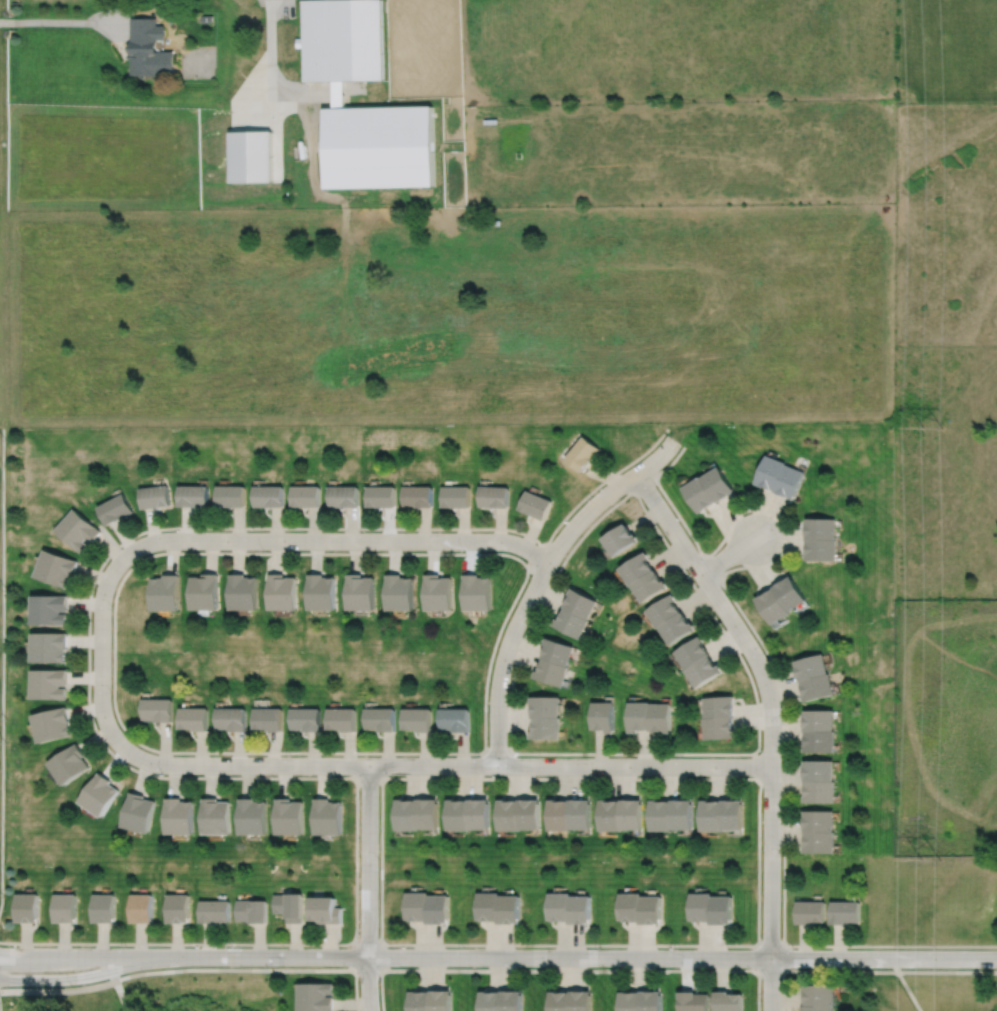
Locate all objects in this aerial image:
building: (206, 18)
road: (63, 21)
building: (342, 39)
building: (149, 49)
road: (270, 60)
road: (338, 90)
road: (253, 91)
building: (490, 120)
building: (379, 145)
crop: (681, 152)
building: (251, 155)
road: (312, 159)
power tower: (932, 428)
street lamp: (678, 448)
building: (583, 453)
road: (656, 459)
building: (770, 471)
building: (789, 481)
road: (643, 483)
building: (717, 483)
street lamp: (655, 485)
building: (699, 494)
building: (156, 496)
building: (195, 496)
building: (231, 496)
building: (268, 496)
building: (305, 496)
building: (344, 496)
building: (380, 496)
building: (417, 496)
building: (456, 496)
building: (494, 496)
street lamp: (590, 496)
building: (536, 505)
building: (117, 509)
street lamp: (778, 522)
building: (820, 528)
building: (78, 530)
street lamp: (174, 530)
street lamp: (365, 531)
building: (622, 539)
road: (338, 540)
street lamp: (263, 550)
street lamp: (463, 550)
building: (821, 550)
road: (163, 552)
road: (728, 555)
road: (535, 558)
road: (711, 567)
building: (56, 568)
building: (640, 568)
street lamp: (691, 577)
building: (653, 586)
building: (206, 592)
building: (243, 592)
building: (281, 592)
building: (321, 592)
building: (360, 592)
building: (167, 593)
building: (399, 593)
building: (438, 593)
building: (478, 593)
building: (789, 593)
road: (701, 598)
road: (527, 601)
building: (582, 604)
building: (772, 606)
street lamp: (111, 607)
building: (50, 610)
building: (667, 611)
street lamp: (530, 617)
building: (573, 623)
building: (681, 628)
road: (100, 645)
building: (49, 647)
building: (558, 652)
building: (694, 653)
street lamp: (763, 653)
road: (2, 667)
building: (810, 668)
building: (705, 672)
building: (552, 673)
building: (49, 684)
road: (778, 687)
building: (816, 688)
street lamp: (111, 693)
road: (768, 697)
street lamp: (487, 707)
building: (546, 707)
building: (720, 707)
building: (159, 710)
building: (604, 717)
building: (640, 717)
building: (662, 718)
building: (194, 719)
building: (233, 719)
building: (268, 720)
building: (305, 720)
building: (341, 720)
building: (380, 720)
building: (418, 720)
building: (456, 720)
building: (819, 721)
building: (53, 725)
building: (547, 729)
building: (720, 729)
road: (96, 732)
street lamp: (756, 740)
building: (820, 742)
street lamp: (760, 750)
road: (497, 753)
street lamp: (290, 755)
street lamp: (479, 755)
street lamp: (681, 756)
road: (758, 764)
building: (70, 765)
road: (441, 765)
building: (819, 768)
street lamp: (163, 774)
street lamp: (388, 776)
street lamp: (596, 776)
road: (368, 777)
building: (820, 790)
building: (101, 795)
building: (661, 812)
building: (682, 812)
building: (733, 812)
building: (712, 813)
building: (140, 814)
building: (631, 814)
building: (611, 815)
building: (407, 816)
building: (428, 816)
building: (480, 816)
building: (531, 816)
building: (582, 816)
building: (459, 817)
building: (510, 817)
building: (561, 817)
building: (180, 818)
building: (217, 818)
building: (254, 818)
building: (289, 818)
building: (327, 818)
building: (819, 818)
building: (820, 840)
street lamp: (780, 855)
street lamp: (378, 859)
power tower: (932, 859)
road: (368, 860)
building: (417, 903)
building: (489, 903)
building: (289, 904)
building: (558, 904)
building: (629, 904)
building: (700, 905)
building: (438, 906)
building: (509, 906)
building: (28, 907)
building: (66, 907)
building: (143, 907)
building: (324, 907)
building: (578, 907)
building: (650, 907)
building: (105, 908)
building: (179, 908)
building: (251, 908)
building: (721, 908)
building: (811, 910)
building: (845, 910)
building: (214, 911)
park: (929, 932)
street lamp: (358, 933)
street lamp: (232, 940)
road: (367, 943)
road: (749, 945)
street lamp: (125, 946)
street lamp: (463, 947)
street lamp: (599, 948)
street lamp: (675, 948)
street lamp: (793, 948)
street lamp: (934, 948)
road: (758, 952)
road: (77, 956)
road: (575, 957)
road: (895, 965)
road: (505, 969)
road: (947, 972)
road: (78, 976)
road: (368, 983)
road: (770, 984)
street lamp: (72, 985)
road: (355, 990)
road: (381, 990)
road: (58, 991)
road: (782, 991)
road: (909, 991)
building: (819, 994)
road: (122, 995)
building: (316, 995)
park: (164, 998)
building: (420, 999)
building: (442, 999)
building: (512, 999)
building: (491, 1000)
building: (560, 1000)
building: (581, 1000)
building: (629, 1000)
building: (650, 1000)
building: (727, 1000)
building: (692, 1001)
street lamp: (761, 1001)
building: (818, 1007)

